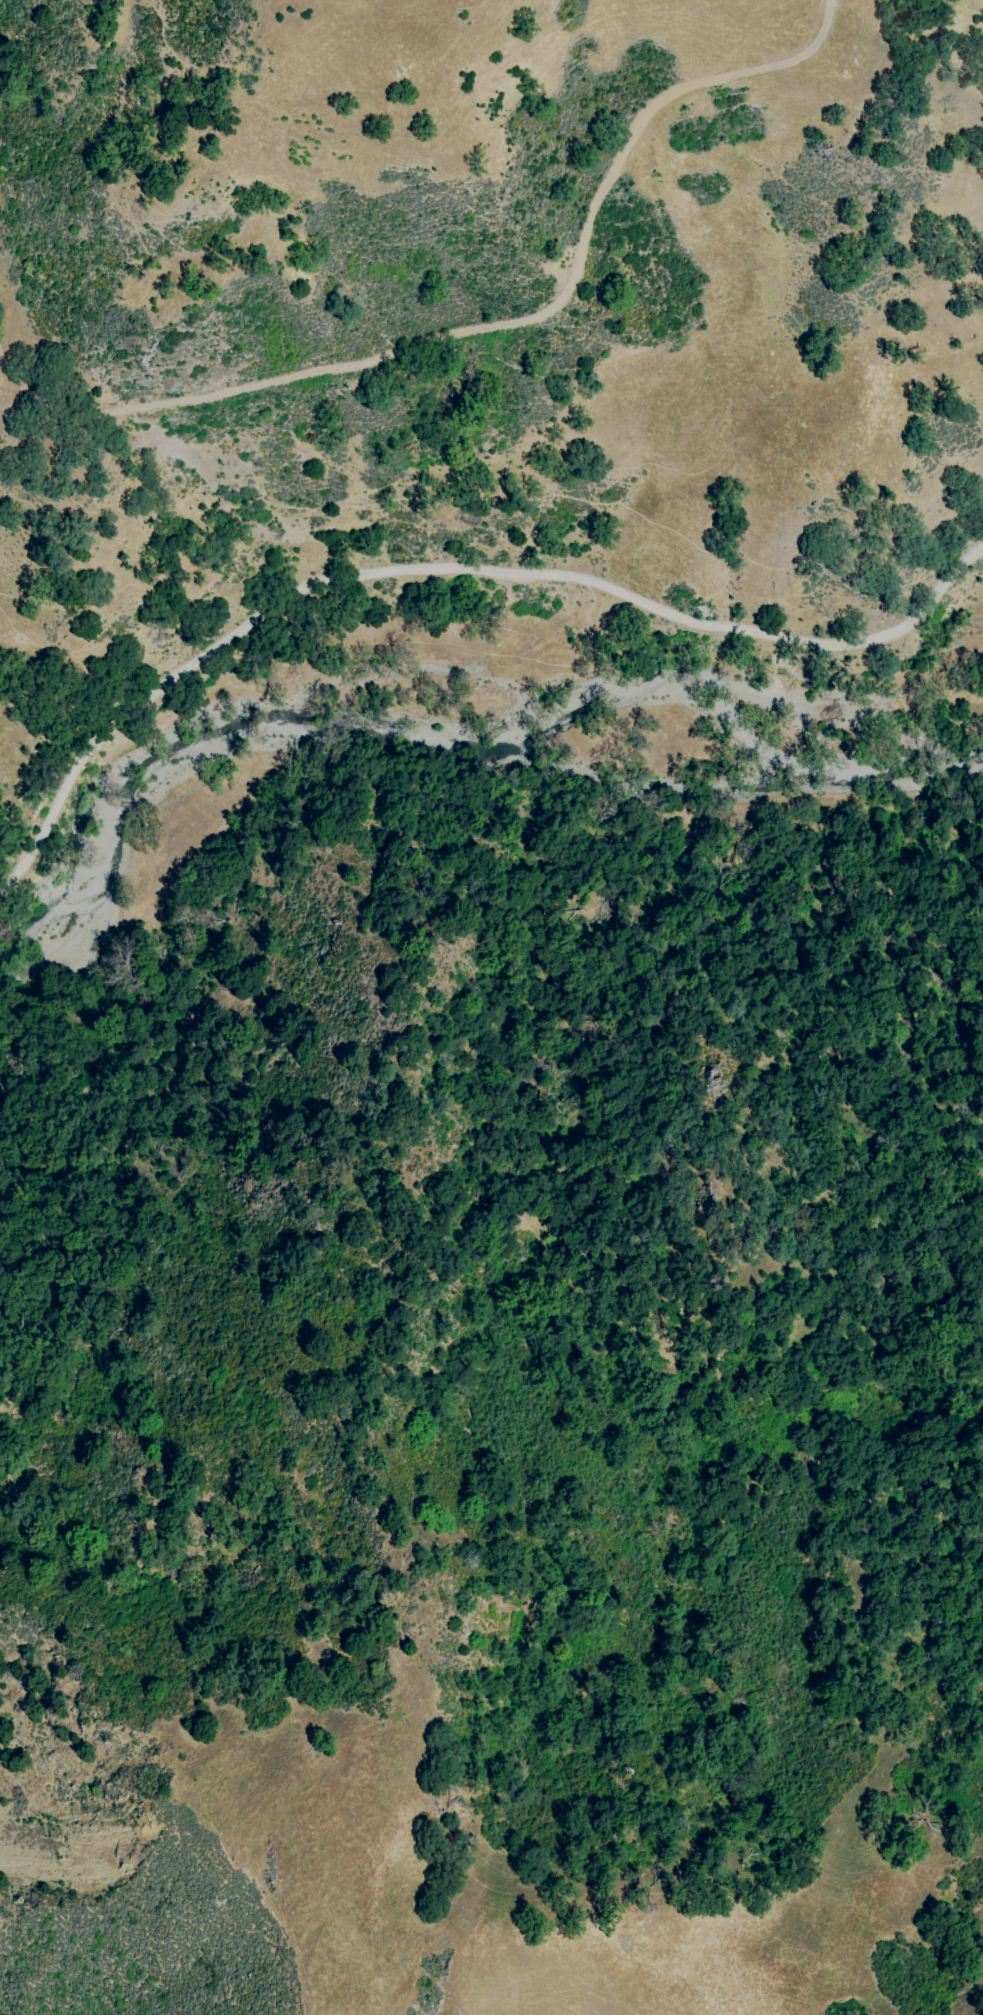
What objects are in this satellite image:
road: (471, 341)
road: (492, 492)
road: (454, 571)
river: (456, 731)

